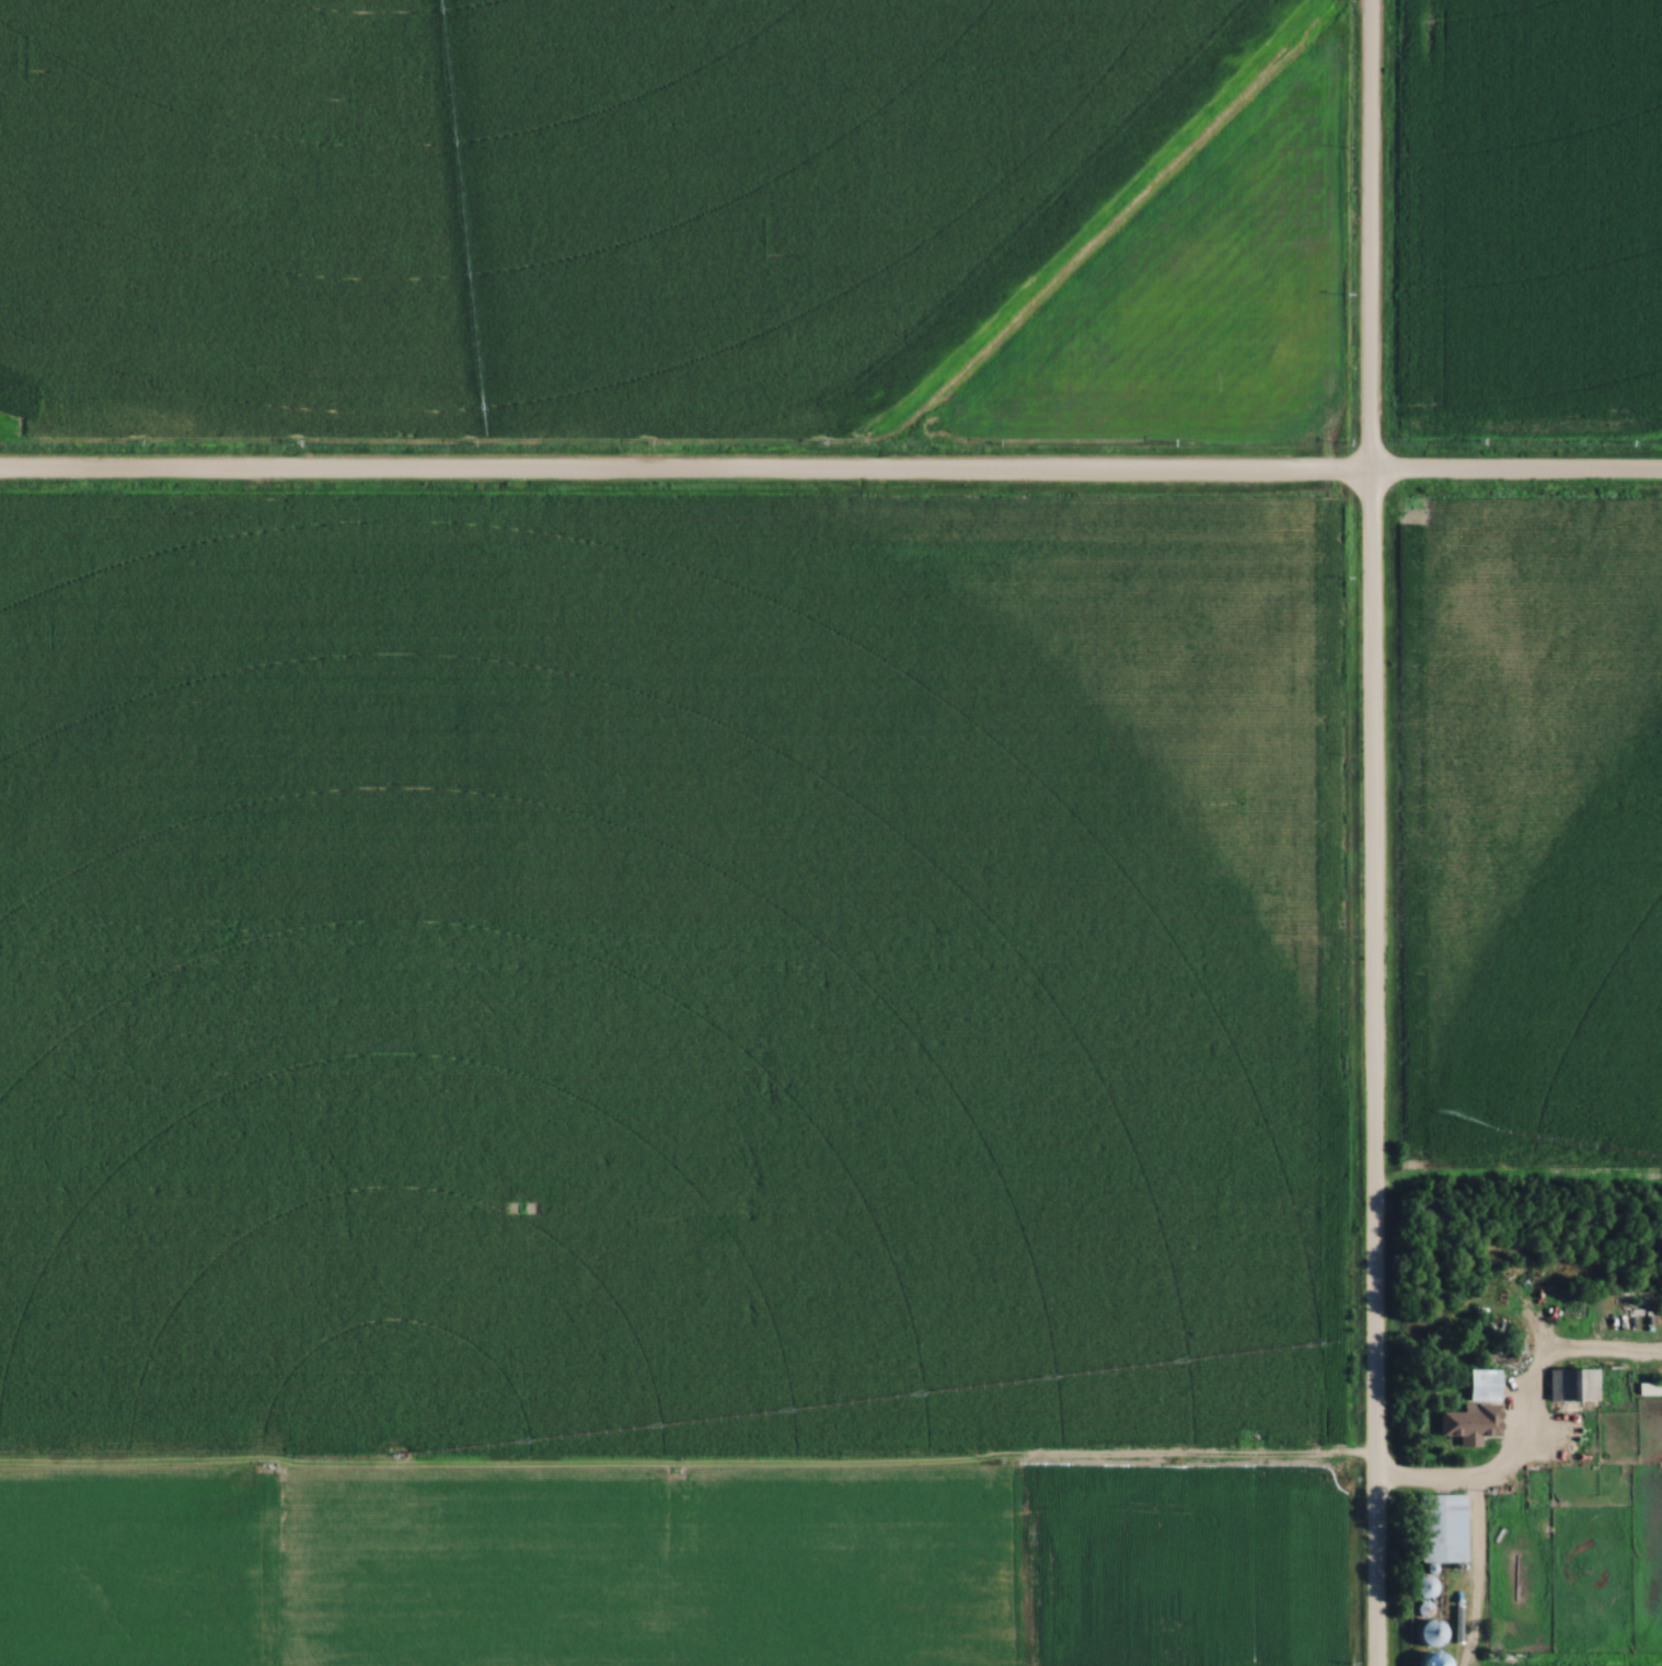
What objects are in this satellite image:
road: (831, 475)
road: (1370, 833)
road: (1528, 1380)
building: (1567, 1384)
building: (1468, 1409)
building: (1435, 1527)
road: (1474, 1534)
building: (1426, 1632)

